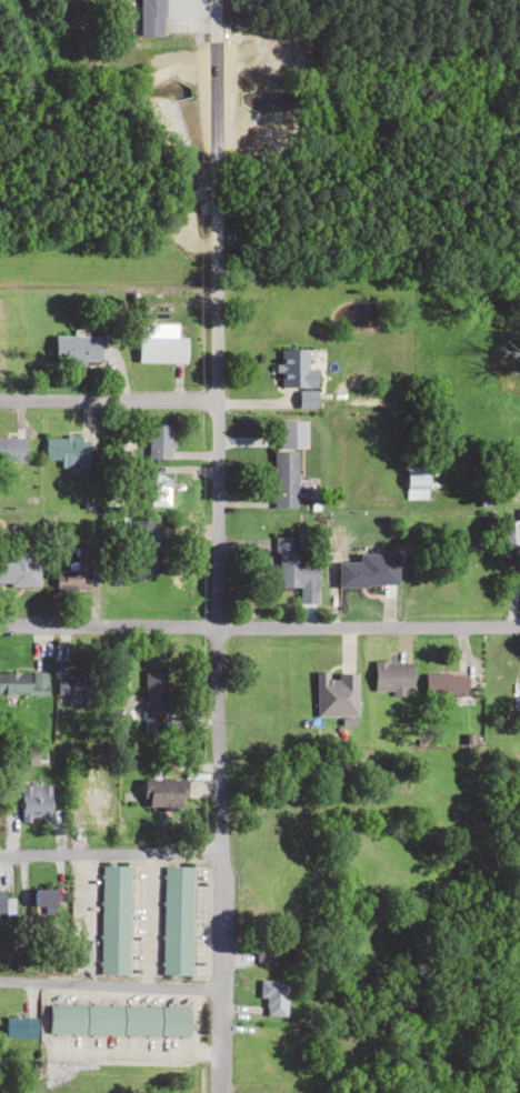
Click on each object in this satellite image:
building: (150, 17)
building: (76, 348)
building: (161, 349)
building: (294, 370)
road: (106, 400)
building: (292, 433)
building: (158, 442)
building: (11, 449)
building: (67, 450)
building: (283, 480)
building: (416, 484)
building: (510, 534)
road: (212, 546)
building: (148, 552)
building: (294, 569)
building: (19, 571)
building: (369, 571)
building: (76, 572)
road: (260, 631)
building: (392, 678)
building: (22, 682)
building: (444, 684)
building: (76, 686)
building: (336, 694)
building: (153, 702)
building: (166, 794)
building: (36, 801)
building: (92, 804)
road: (107, 852)
building: (44, 898)
building: (3, 902)
building: (113, 920)
building: (176, 921)
building: (263, 951)
road: (108, 984)
building: (273, 996)
building: (118, 1020)
building: (20, 1026)

